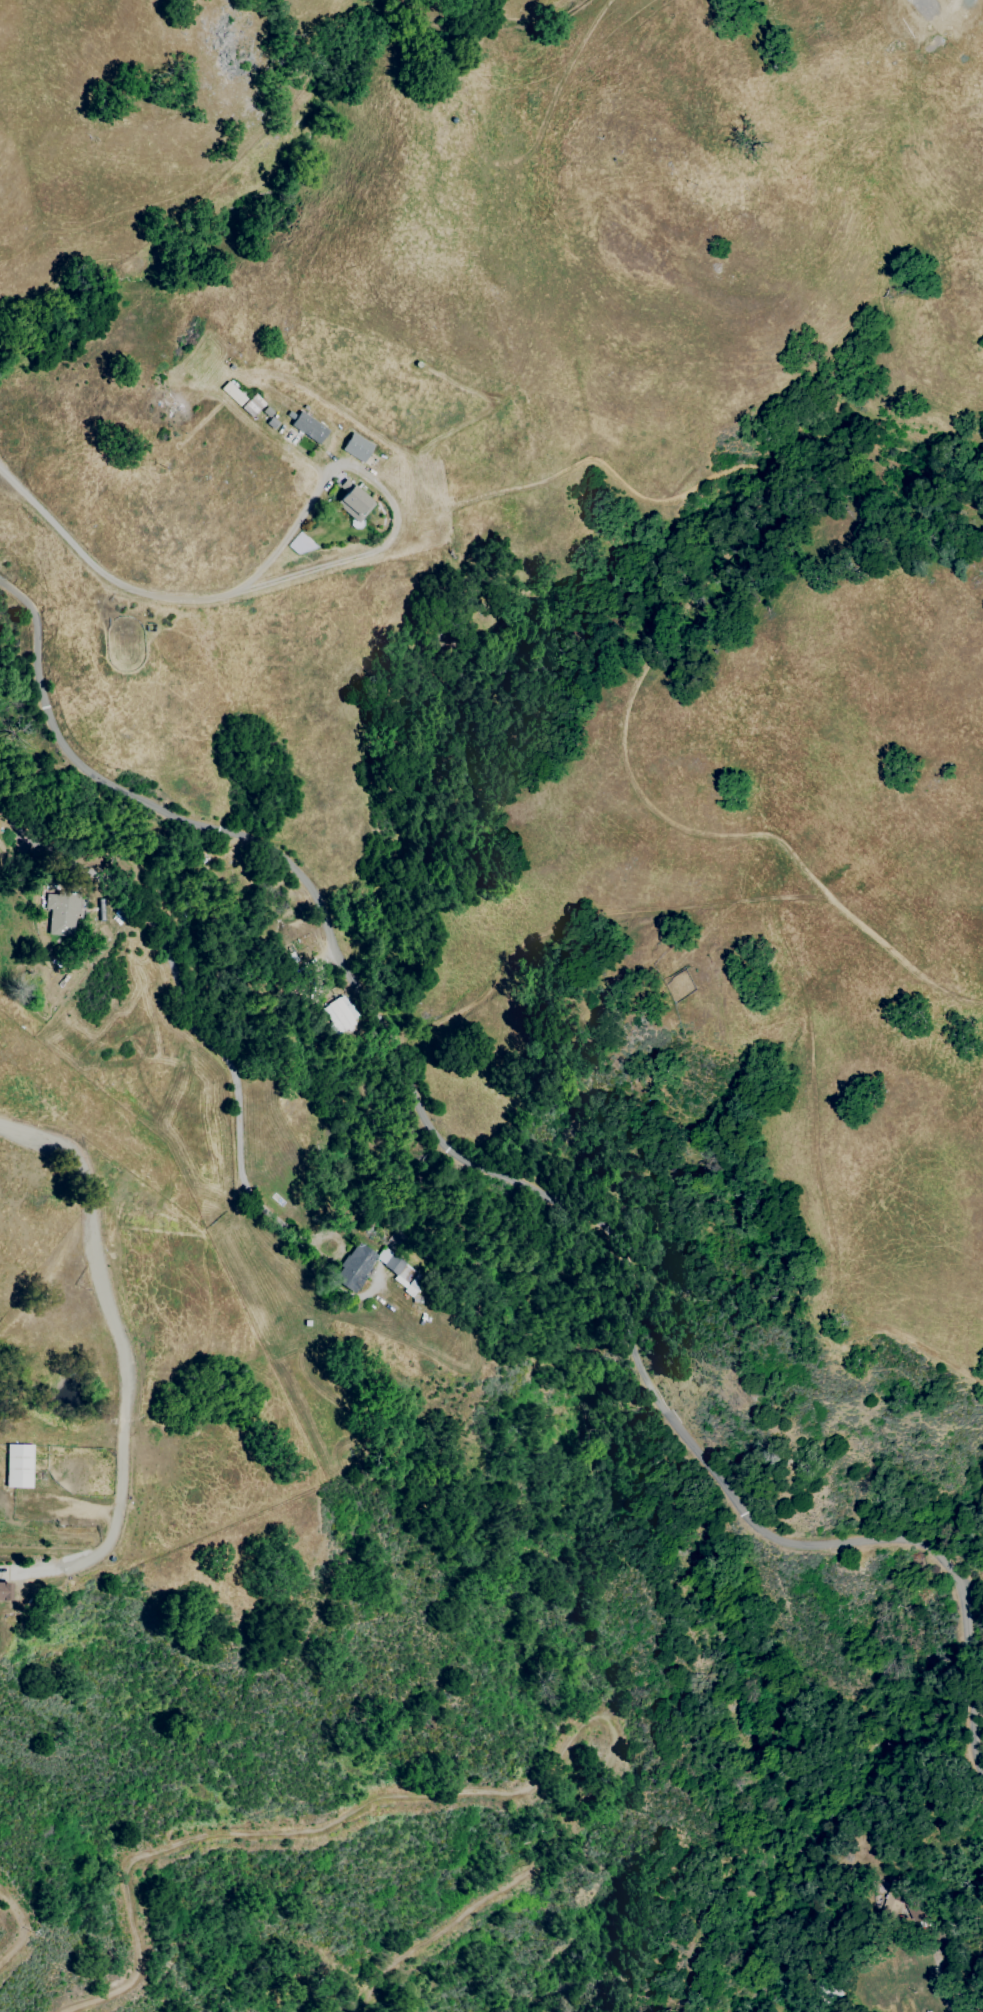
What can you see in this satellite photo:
building: (233, 394)
building: (252, 405)
building: (309, 428)
road: (267, 435)
building: (357, 448)
road: (381, 489)
building: (353, 501)
road: (98, 572)
building: (61, 913)
road: (187, 1013)
building: (340, 1013)
road: (531, 1185)
building: (354, 1267)
road: (124, 1366)
building: (18, 1466)
building: (4, 1592)
road: (976, 1705)
road: (482, 1792)
building: (903, 1906)
road: (22, 1928)
road: (938, 1979)

